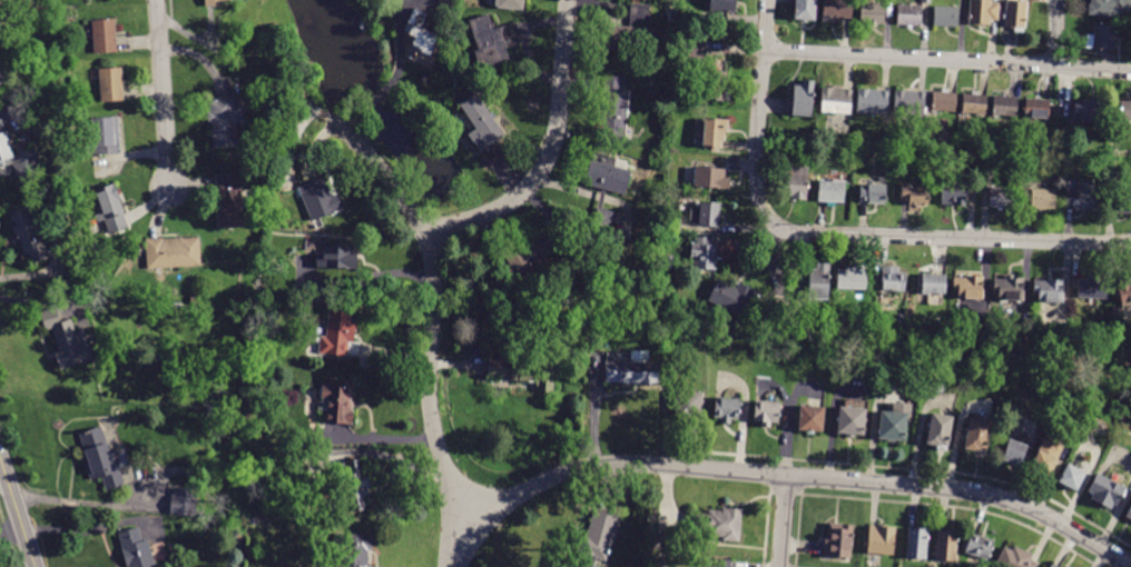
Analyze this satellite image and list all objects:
building: (214, 2)
building: (510, 3)
building: (724, 6)
building: (805, 9)
building: (1110, 9)
building: (837, 10)
building: (873, 12)
building: (911, 12)
building: (983, 12)
building: (1015, 14)
building: (946, 17)
building: (633, 32)
road: (1058, 32)
building: (104, 36)
building: (1102, 37)
building: (421, 40)
building: (493, 41)
building: (697, 47)
road: (947, 59)
road: (399, 72)
building: (2, 73)
building: (110, 84)
building: (717, 86)
road: (164, 97)
building: (804, 99)
building: (836, 100)
building: (873, 102)
building: (909, 102)
building: (944, 102)
building: (974, 105)
building: (1005, 106)
building: (614, 109)
building: (1036, 109)
building: (1089, 110)
building: (1125, 112)
road: (759, 113)
building: (225, 121)
building: (483, 129)
building: (715, 133)
building: (104, 137)
road: (551, 152)
building: (18, 158)
building: (266, 170)
building: (711, 178)
building: (1056, 180)
building: (795, 182)
building: (59, 188)
building: (606, 188)
building: (832, 191)
building: (954, 192)
building: (873, 193)
building: (915, 195)
building: (1002, 197)
building: (1083, 197)
building: (318, 199)
building: (1043, 199)
building: (229, 200)
building: (1119, 205)
building: (109, 208)
building: (706, 215)
building: (672, 223)
building: (28, 232)
road: (952, 237)
building: (173, 252)
building: (706, 253)
building: (529, 256)
building: (336, 257)
building: (666, 261)
road: (366, 277)
building: (852, 278)
building: (893, 278)
building: (819, 282)
building: (934, 283)
building: (968, 287)
building: (1010, 288)
building: (1092, 288)
building: (1050, 290)
building: (1124, 290)
building: (731, 297)
building: (1115, 311)
building: (898, 320)
road: (432, 329)
building: (337, 334)
building: (67, 340)
building: (956, 355)
building: (632, 369)
building: (524, 372)
building: (337, 402)
building: (688, 406)
building: (727, 409)
building: (767, 412)
building: (812, 418)
building: (850, 421)
building: (894, 421)
building: (940, 431)
building: (977, 436)
building: (1013, 451)
building: (102, 458)
building: (1045, 458)
building: (295, 472)
road: (798, 476)
building: (1072, 477)
building: (355, 483)
building: (1105, 491)
road: (80, 501)
building: (184, 501)
road: (17, 513)
building: (1129, 513)
building: (253, 520)
road: (783, 521)
building: (719, 524)
road: (11, 528)
building: (237, 538)
building: (667, 539)
building: (596, 540)
building: (838, 540)
building: (881, 540)
building: (917, 543)
building: (946, 545)
building: (978, 546)
building: (136, 549)
building: (353, 549)
building: (1015, 558)
building: (722, 563)
building: (1053, 565)
building: (1050, 566)

